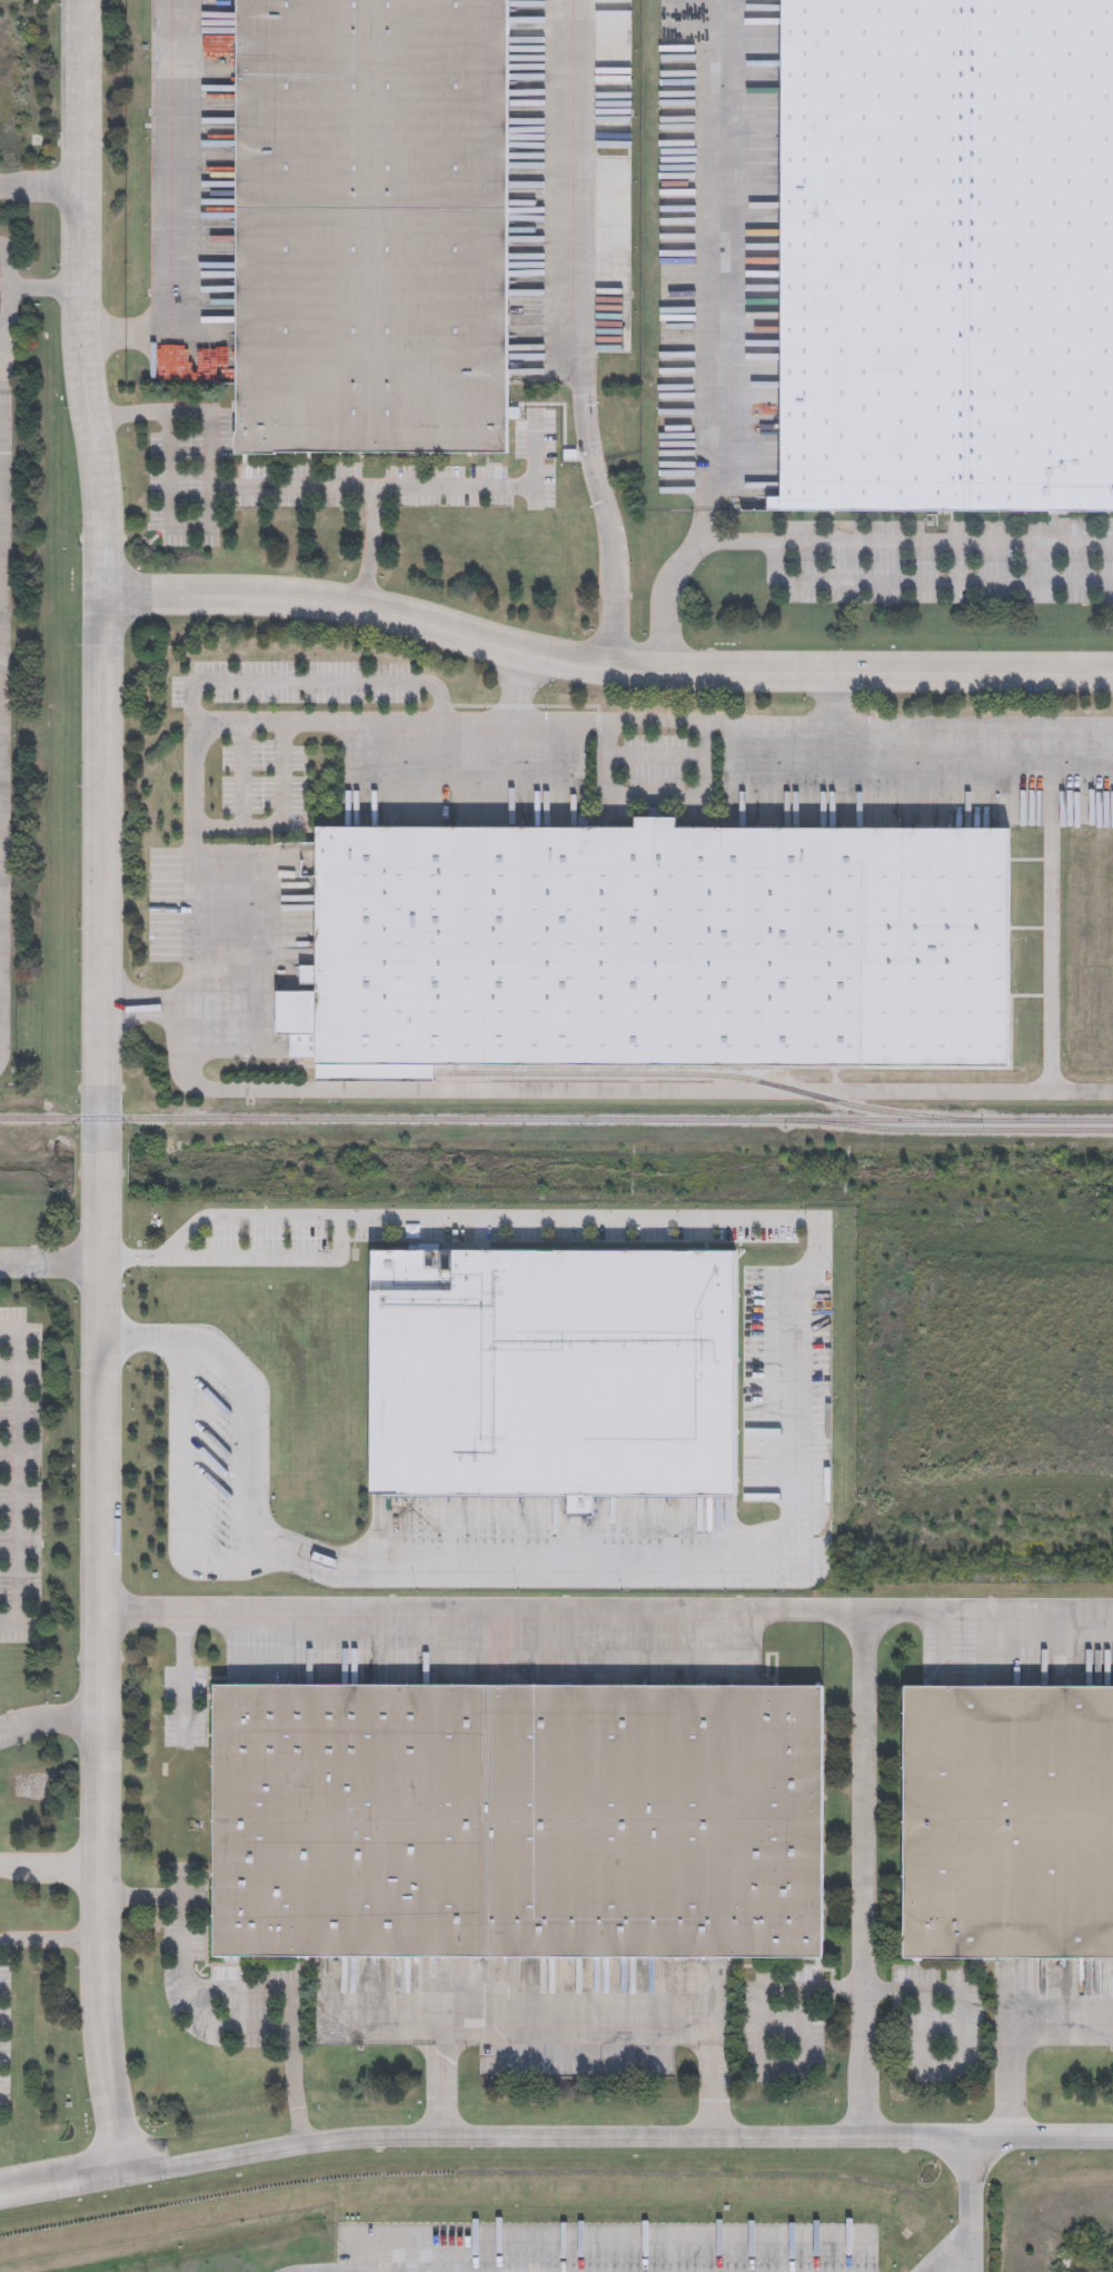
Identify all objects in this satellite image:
road: (171, 169)
road: (40, 188)
building: (369, 221)
building: (948, 256)
road: (6, 267)
road: (3, 288)
road: (43, 288)
road: (6, 310)
road: (584, 337)
road: (129, 341)
road: (719, 344)
road: (301, 487)
road: (169, 508)
road: (904, 544)
road: (370, 548)
road: (925, 582)
building: (4, 611)
road: (603, 669)
road: (314, 683)
road: (2, 693)
road: (625, 718)
road: (931, 748)
road: (655, 755)
road: (241, 777)
road: (187, 791)
road: (656, 797)
road: (281, 823)
road: (1041, 924)
building: (656, 942)
railway: (646, 1077)
road: (101, 1087)
road: (436, 1095)
road: (811, 1098)
road: (974, 1099)
railway: (556, 1122)
railway: (947, 1132)
road: (50, 1267)
building: (560, 1377)
road: (18, 1472)
road: (176, 1486)
road: (823, 1489)
road: (485, 1608)
road: (992, 1609)
road: (181, 1678)
road: (50, 1730)
building: (505, 1818)
building: (1006, 1822)
road: (50, 1865)
road: (865, 1873)
road: (49, 1938)
road: (207, 2020)
road: (963, 2030)
road: (575, 2032)
road: (762, 2032)
road: (1012, 2032)
road: (554, 2137)
road: (970, 2204)
road: (962, 2265)

